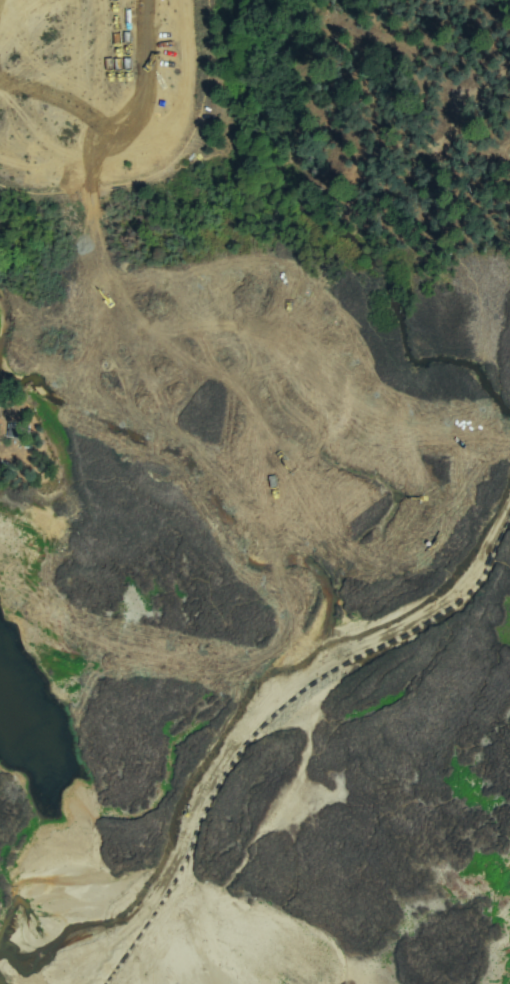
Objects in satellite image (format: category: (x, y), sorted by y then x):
building: (19, 430)

